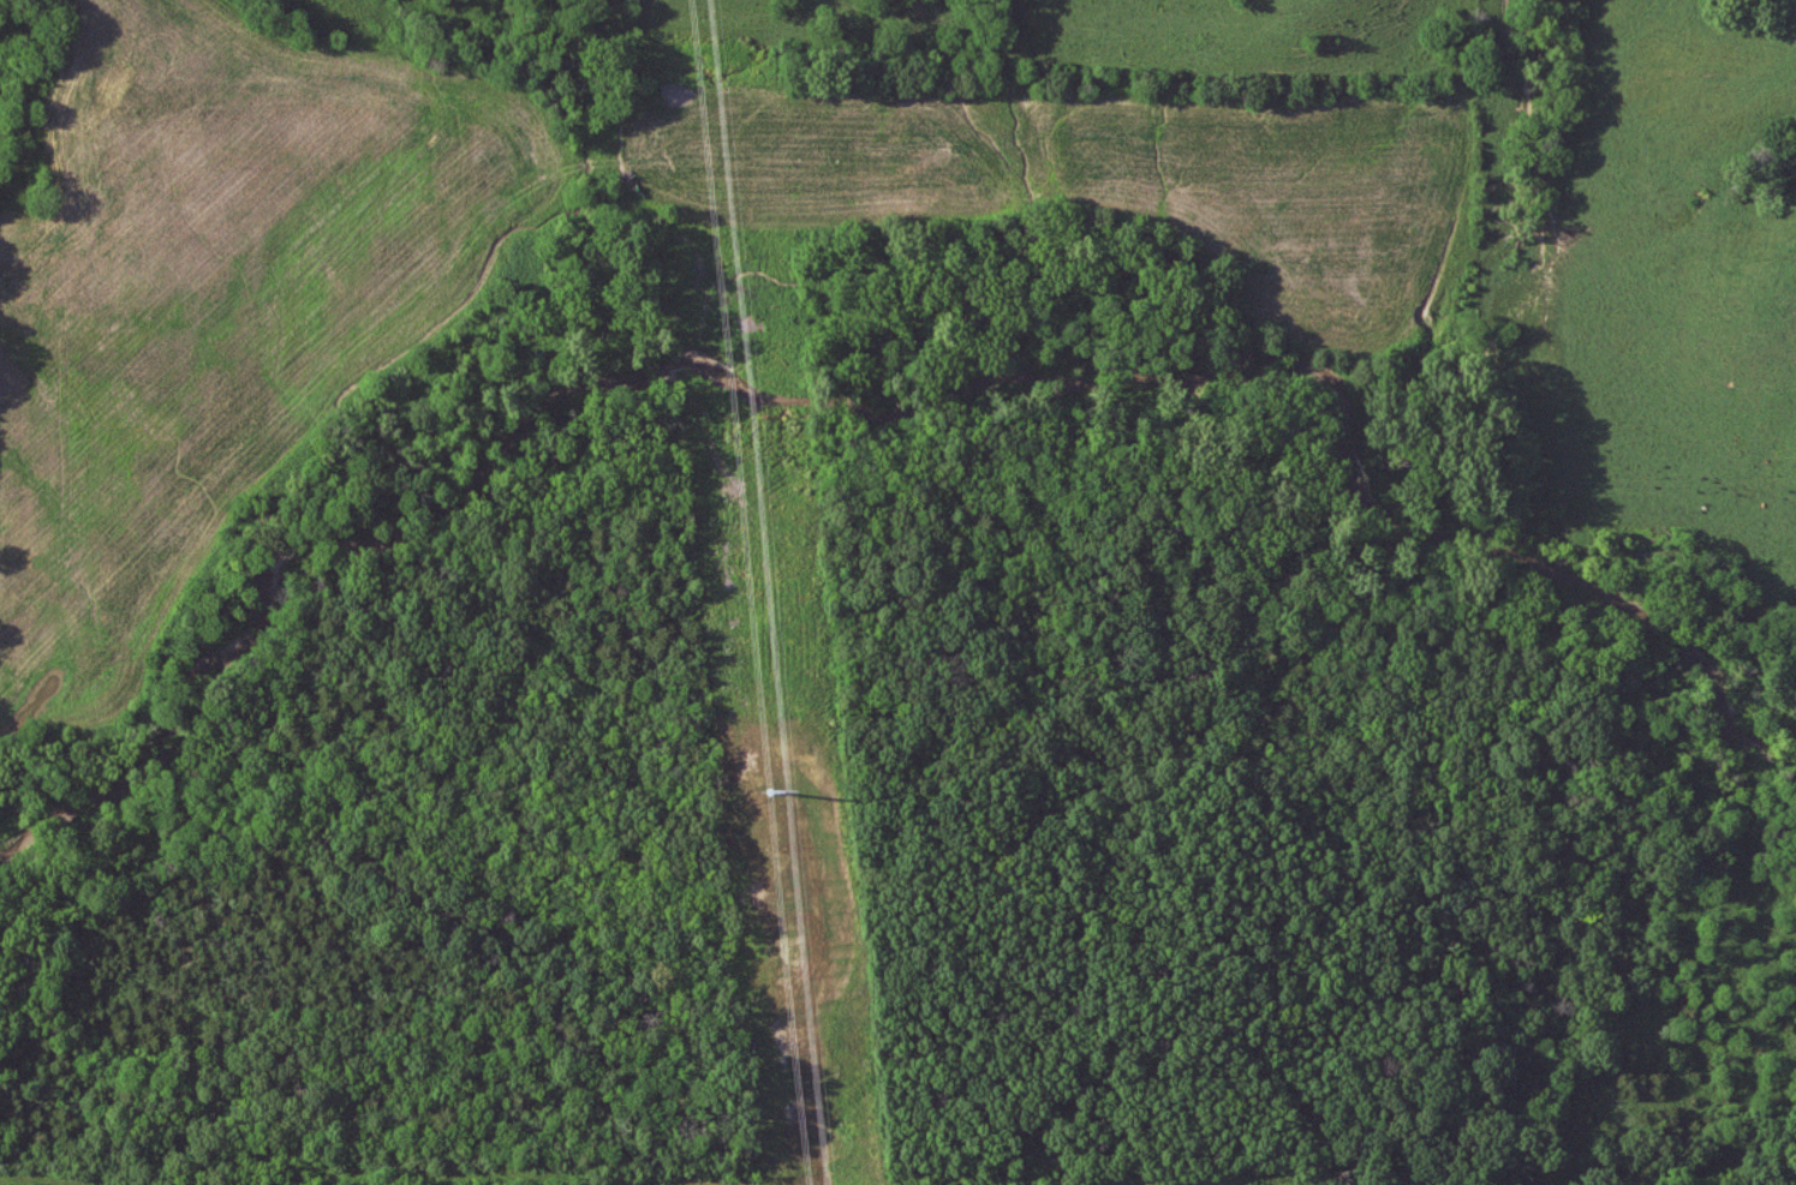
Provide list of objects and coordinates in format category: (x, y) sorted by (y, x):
power tower: (772, 786)

